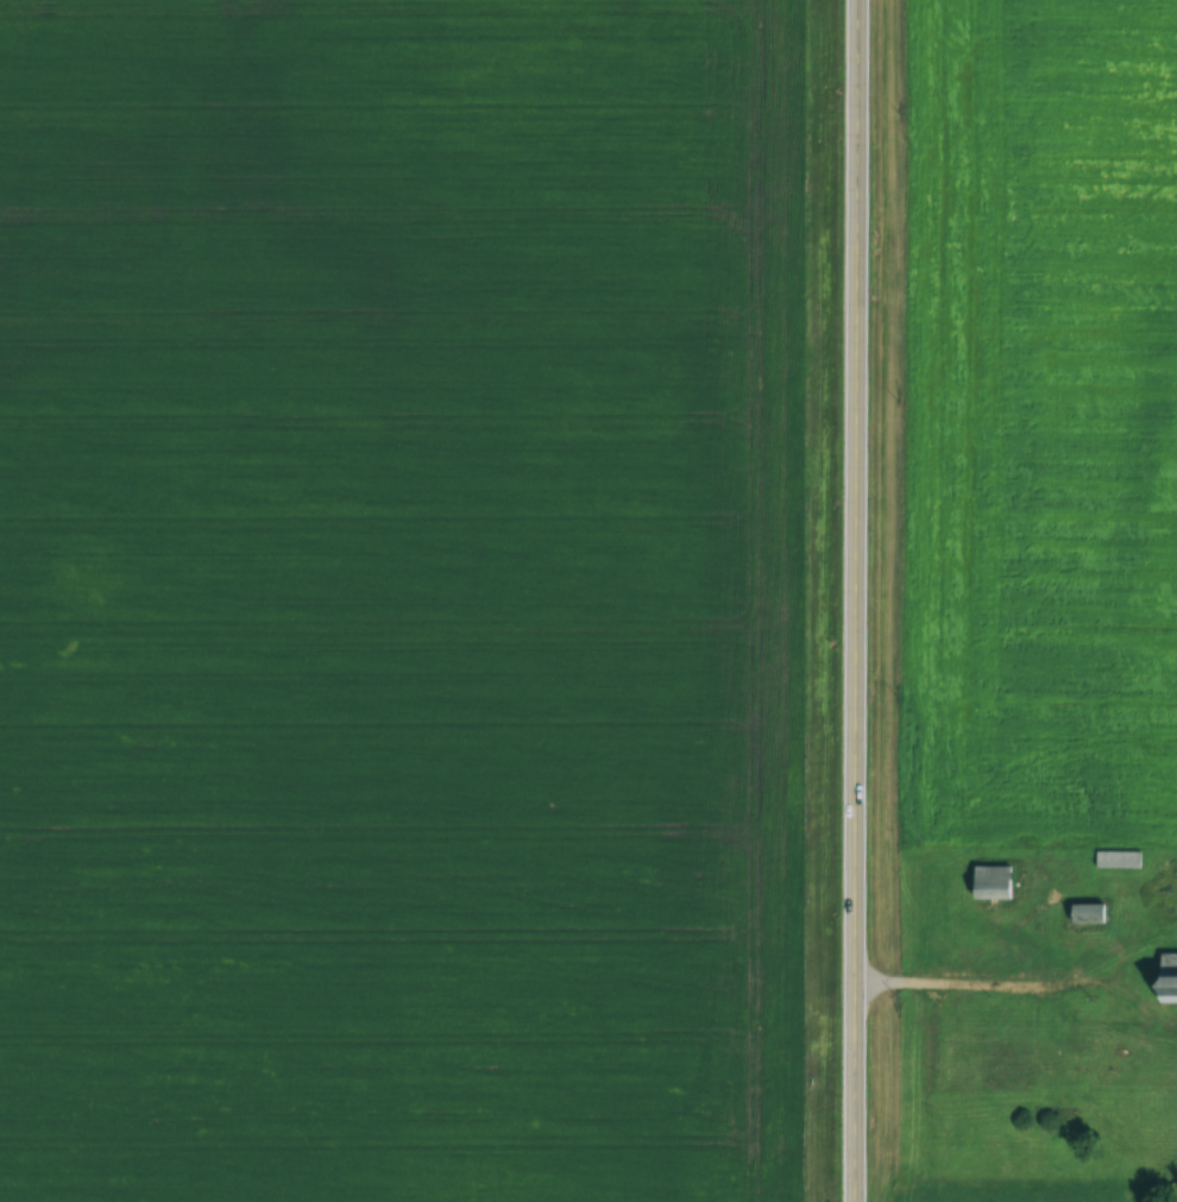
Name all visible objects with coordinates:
road: (855, 600)
building: (1115, 855)
building: (988, 880)
building: (1082, 911)
building: (1166, 975)
road: (981, 984)
building: (1000, 1066)

